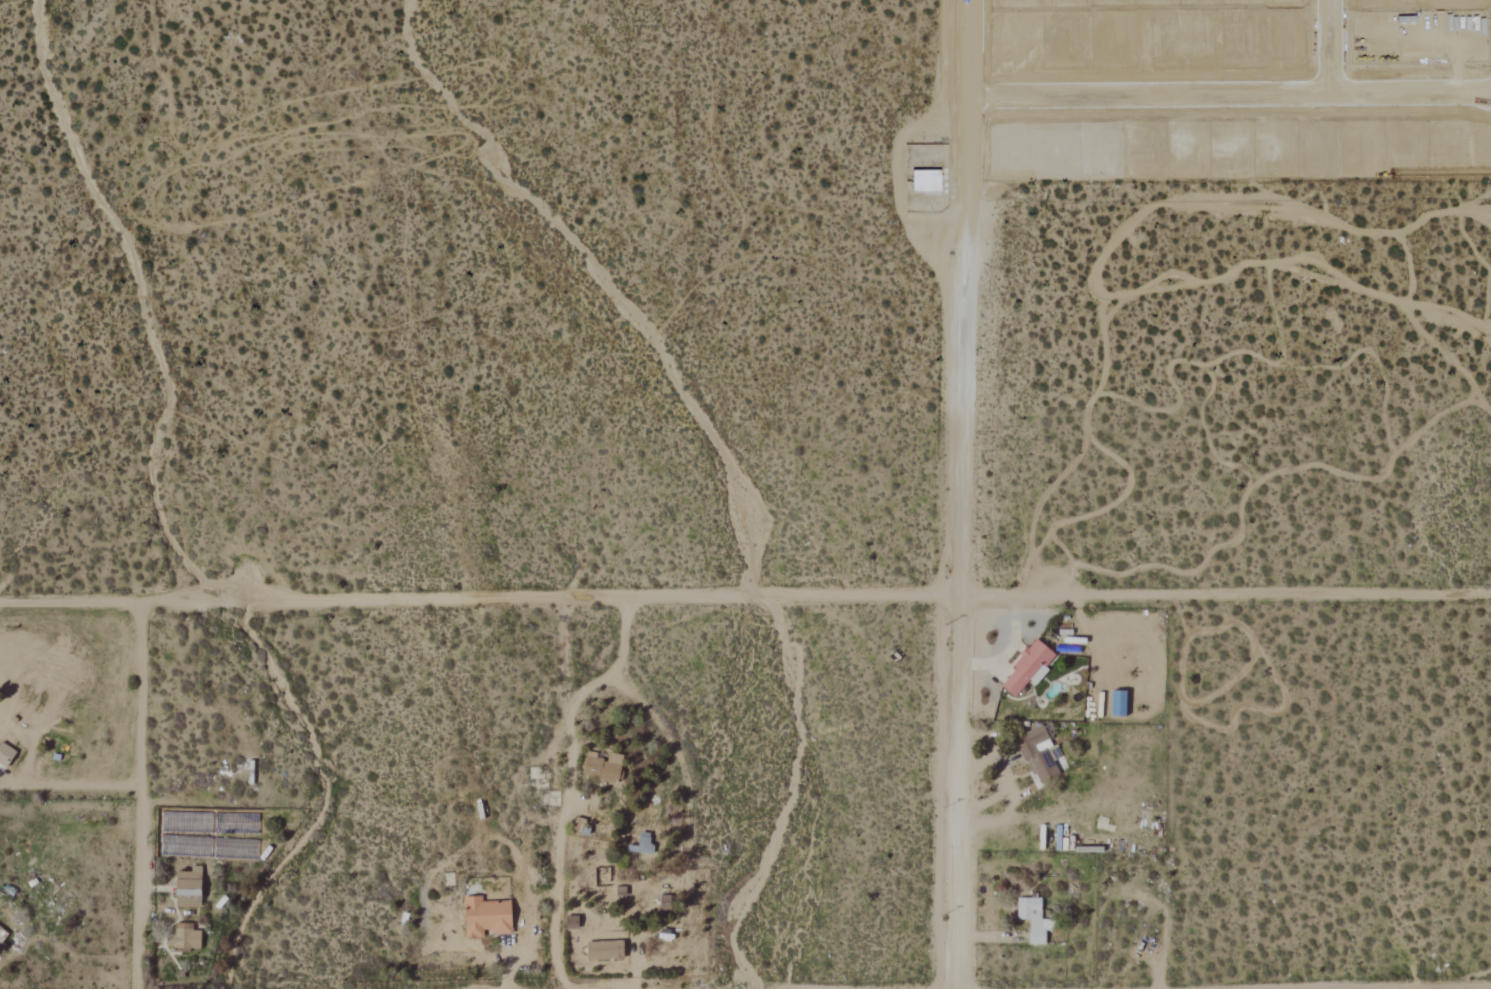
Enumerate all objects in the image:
road: (1329, 45)
road: (1226, 92)
road: (963, 494)
road: (1227, 592)
road: (482, 599)
road: (1009, 645)
building: (1026, 669)
road: (4, 699)
road: (677, 753)
building: (599, 769)
road: (566, 783)
road: (70, 785)
road: (141, 796)
road: (1008, 797)
road: (985, 802)
road: (463, 849)
road: (993, 872)
road: (541, 895)
building: (663, 903)
building: (1030, 916)
building: (483, 917)
building: (181, 937)
road: (990, 938)
road: (1160, 958)
road: (506, 971)
road: (608, 987)
road: (1452, 988)

